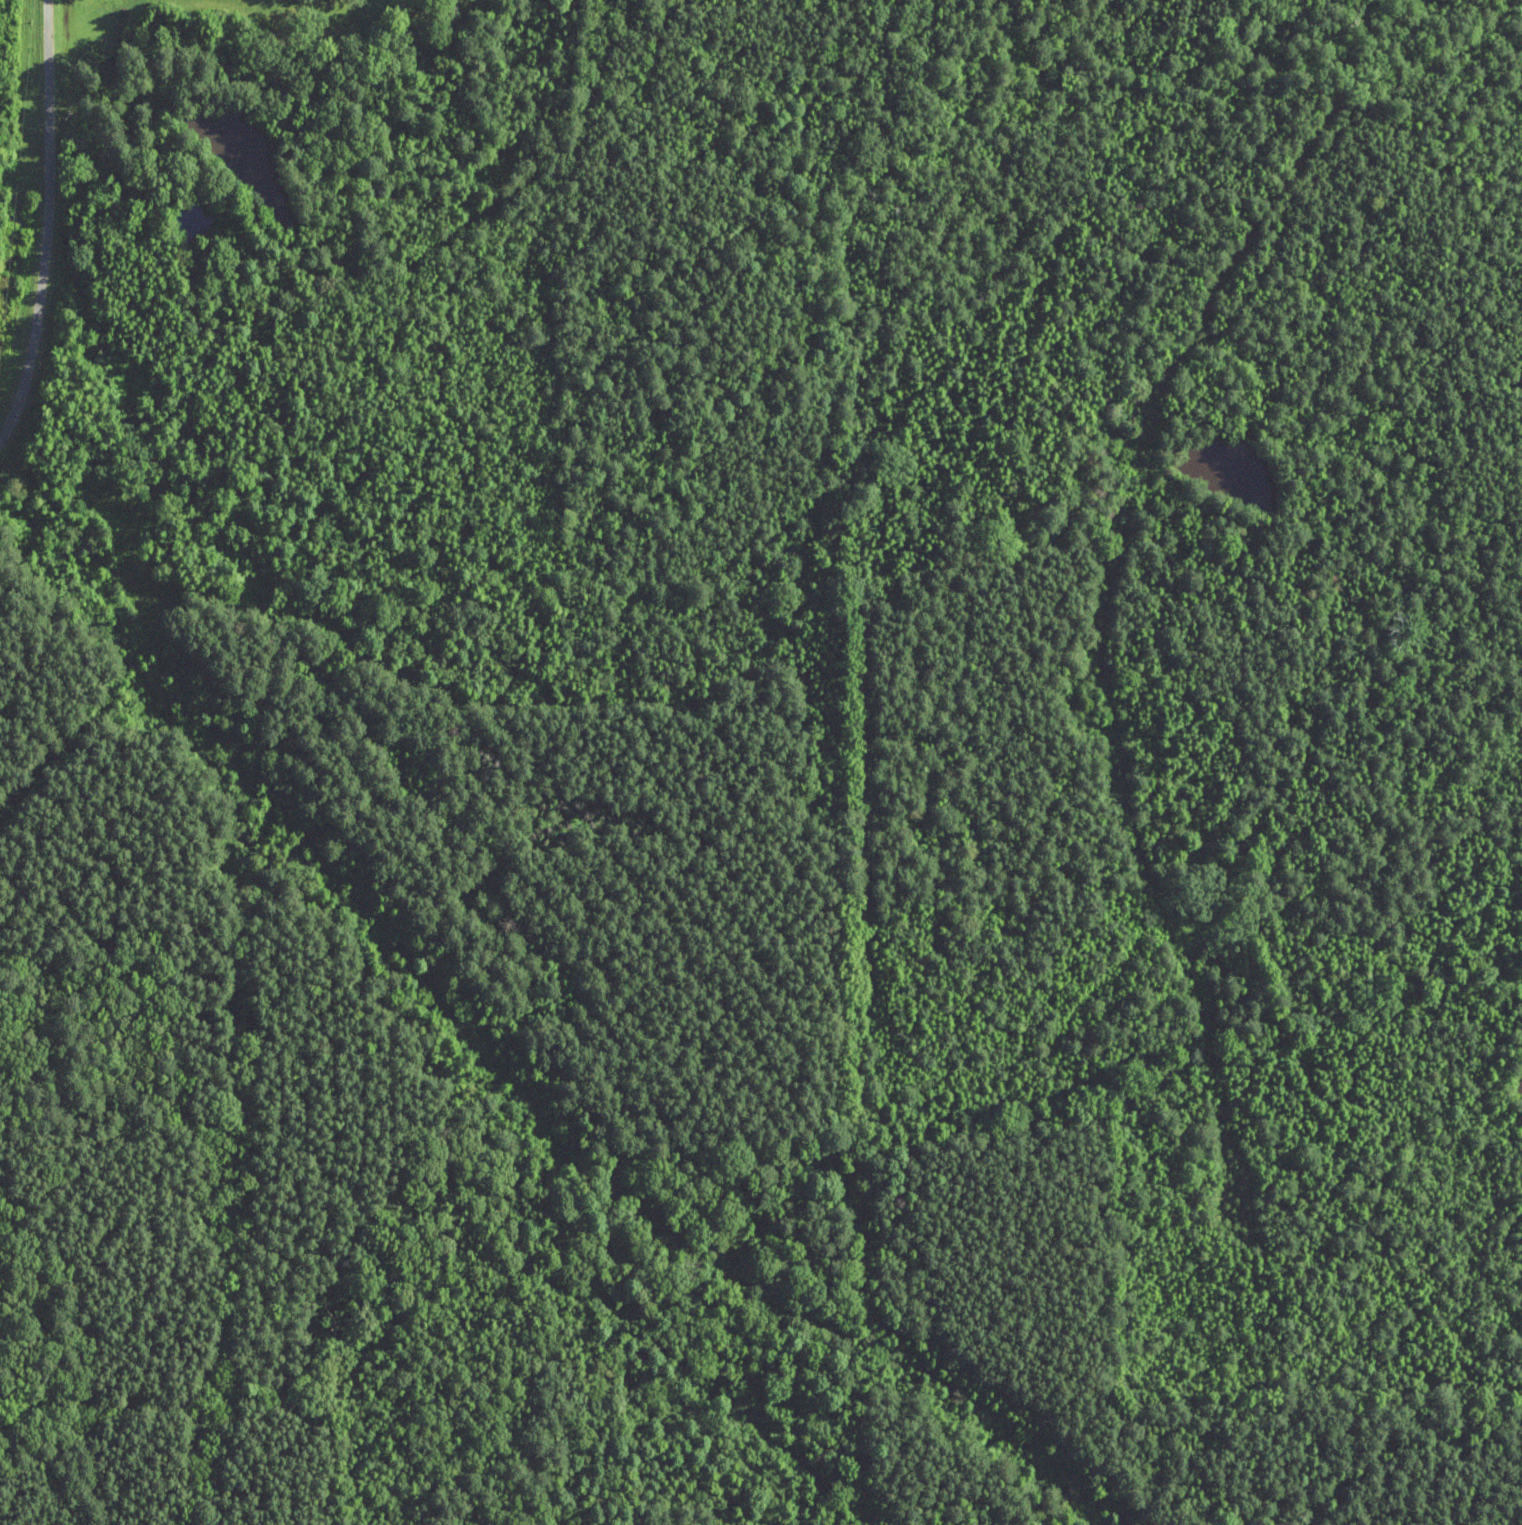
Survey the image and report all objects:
road: (33, 216)

